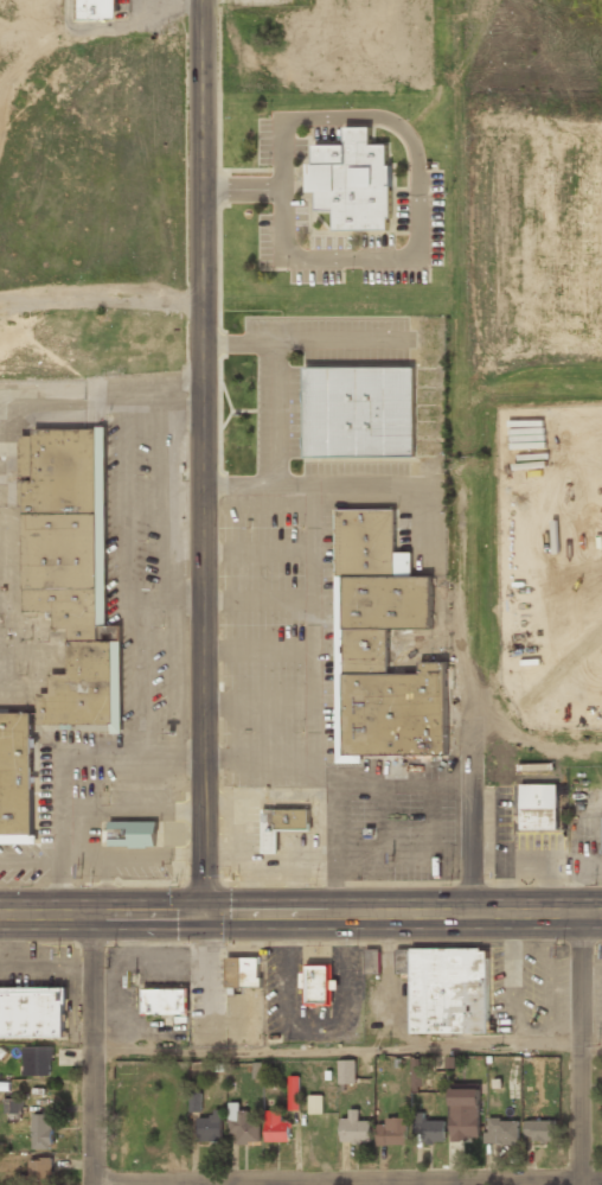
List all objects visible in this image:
building: (96, 9)
building: (353, 183)
building: (359, 412)
road: (199, 457)
building: (62, 606)
building: (382, 646)
building: (538, 808)
road: (475, 817)
building: (281, 827)
building: (130, 835)
traffic signals: (199, 913)
road: (301, 913)
building: (371, 961)
building: (243, 971)
building: (318, 985)
building: (447, 989)
building: (166, 1000)
building: (32, 1012)
road: (346, 1047)
road: (91, 1049)
road: (581, 1049)
building: (37, 1060)
building: (346, 1071)
building: (416, 1072)
building: (293, 1092)
building: (315, 1103)
building: (13, 1106)
building: (465, 1114)
building: (243, 1125)
building: (210, 1127)
building: (276, 1127)
building: (354, 1128)
building: (430, 1128)
building: (539, 1129)
building: (41, 1130)
building: (392, 1132)
building: (501, 1132)
building: (39, 1171)
road: (347, 1180)

